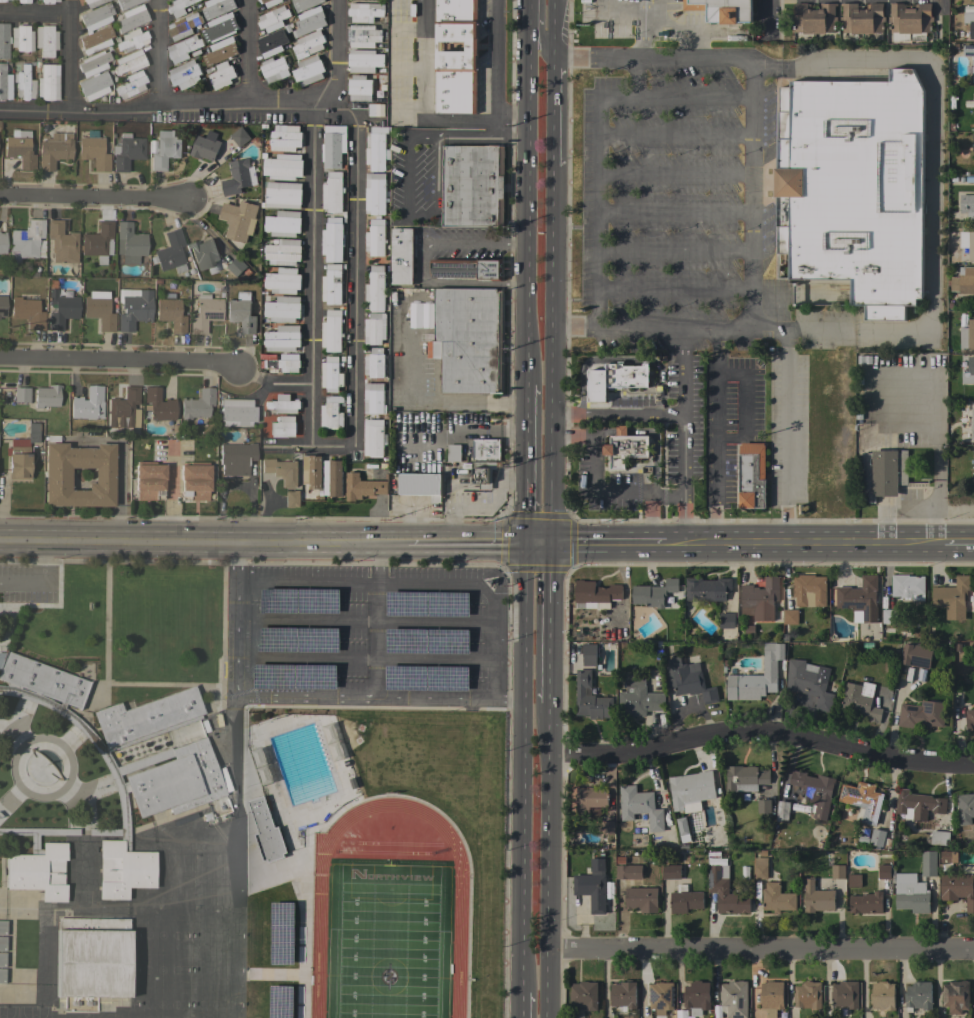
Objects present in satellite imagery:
building: (1, 0)
building: (23, 1)
building: (48, 1)
building: (92, 2)
building: (269, 2)
building: (126, 3)
building: (304, 4)
road: (939, 4)
road: (642, 6)
building: (179, 7)
building: (216, 8)
building: (723, 10)
road: (528, 11)
building: (364, 12)
road: (616, 13)
road: (656, 13)
road: (34, 14)
building: (95, 16)
building: (130, 17)
building: (814, 18)
building: (862, 18)
building: (273, 19)
road: (766, 19)
building: (310, 20)
building: (910, 20)
building: (969, 23)
building: (184, 26)
road: (553, 26)
road: (671, 26)
building: (220, 27)
road: (641, 33)
building: (363, 36)
building: (21, 37)
building: (45, 39)
building: (95, 39)
building: (131, 39)
building: (3, 40)
road: (690, 41)
road: (535, 42)
building: (272, 43)
building: (308, 44)
building: (183, 48)
building: (221, 51)
road: (249, 53)
road: (67, 54)
road: (159, 54)
road: (334, 54)
road: (650, 54)
building: (455, 57)
building: (128, 61)
building: (364, 61)
building: (93, 62)
building: (972, 63)
building: (274, 70)
building: (308, 71)
building: (185, 74)
building: (221, 75)
road: (634, 75)
building: (23, 82)
building: (47, 82)
building: (5, 83)
building: (131, 84)
building: (93, 85)
building: (359, 88)
road: (172, 107)
road: (552, 109)
building: (376, 110)
road: (460, 119)
road: (674, 133)
road: (596, 135)
building: (240, 137)
building: (285, 138)
road: (436, 139)
building: (972, 142)
building: (205, 146)
building: (332, 147)
building: (19, 148)
building: (54, 149)
building: (165, 149)
building: (377, 149)
building: (93, 150)
building: (126, 150)
building: (283, 166)
road: (674, 171)
building: (238, 177)
road: (928, 183)
building: (473, 186)
building: (854, 187)
road: (751, 191)
building: (332, 192)
building: (375, 194)
building: (283, 195)
road: (94, 200)
road: (526, 202)
building: (967, 206)
road: (673, 212)
building: (238, 220)
building: (283, 223)
building: (375, 237)
building: (332, 240)
building: (2, 241)
building: (26, 241)
building: (97, 241)
building: (61, 242)
building: (129, 242)
building: (967, 243)
building: (170, 252)
building: (283, 252)
road: (673, 252)
building: (204, 254)
building: (402, 256)
road: (422, 260)
building: (236, 266)
building: (467, 268)
road: (311, 276)
building: (283, 281)
building: (963, 281)
building: (332, 284)
building: (375, 289)
road: (673, 289)
building: (2, 305)
building: (133, 307)
building: (60, 309)
building: (99, 309)
building: (283, 309)
building: (27, 312)
building: (205, 312)
building: (241, 312)
building: (170, 313)
road: (353, 318)
building: (375, 328)
road: (771, 329)
building: (332, 330)
building: (967, 335)
building: (283, 338)
building: (468, 339)
road: (550, 355)
road: (120, 362)
building: (285, 363)
building: (374, 363)
building: (969, 372)
building: (331, 374)
road: (682, 378)
building: (616, 379)
road: (745, 389)
building: (20, 393)
building: (46, 395)
road: (422, 397)
building: (373, 398)
building: (88, 403)
building: (196, 404)
building: (283, 404)
building: (158, 405)
building: (122, 408)
building: (236, 411)
building: (331, 412)
road: (653, 412)
building: (972, 422)
building: (282, 426)
building: (31, 432)
road: (717, 436)
building: (374, 438)
building: (625, 447)
building: (486, 449)
building: (973, 451)
building: (453, 452)
building: (235, 458)
building: (18, 461)
road: (120, 462)
road: (524, 464)
building: (281, 470)
building: (311, 471)
road: (596, 473)
building: (883, 473)
building: (483, 474)
building: (57, 475)
building: (751, 475)
building: (147, 477)
building: (193, 478)
building: (332, 478)
building: (420, 485)
building: (362, 487)
road: (170, 491)
building: (293, 498)
road: (651, 506)
road: (684, 519)
road: (22, 540)
road: (958, 542)
road: (226, 543)
road: (830, 543)
road: (674, 544)
road: (701, 544)
road: (466, 545)
road: (600, 545)
road: (657, 545)
traffic signals: (524, 546)
road: (536, 546)
traffic signals: (549, 546)
road: (377, 563)
road: (41, 581)
road: (415, 581)
building: (907, 587)
building: (707, 589)
building: (809, 590)
building: (653, 593)
building: (597, 595)
building: (860, 598)
building: (952, 598)
building: (760, 599)
building: (889, 616)
building: (790, 617)
road: (363, 619)
building: (726, 620)
road: (548, 625)
road: (376, 640)
building: (589, 655)
building: (916, 655)
road: (363, 659)
building: (757, 677)
building: (689, 680)
building: (809, 681)
building: (259, 684)
road: (305, 697)
building: (590, 698)
building: (638, 699)
building: (860, 701)
building: (921, 714)
building: (969, 720)
road: (760, 730)
building: (332, 740)
building: (260, 765)
road: (523, 769)
building: (171, 775)
building: (745, 778)
road: (233, 786)
building: (691, 788)
building: (814, 791)
building: (590, 799)
building: (862, 801)
building: (919, 804)
building: (763, 806)
building: (640, 807)
building: (965, 808)
building: (781, 810)
building: (607, 827)
building: (264, 829)
building: (877, 838)
building: (938, 838)
building: (945, 858)
road: (547, 861)
building: (38, 863)
building: (928, 863)
building: (760, 866)
building: (622, 871)
building: (670, 872)
building: (838, 872)
building: (884, 872)
building: (854, 880)
building: (592, 886)
building: (957, 889)
building: (725, 891)
building: (910, 893)
building: (777, 898)
building: (817, 898)
building: (641, 899)
building: (685, 900)
building: (866, 903)
building: (2, 926)
building: (25, 942)
building: (2, 943)
road: (761, 948)
building: (282, 950)
building: (92, 956)
building: (2, 959)
building: (2, 975)
building: (844, 994)
building: (585, 995)
building: (622, 995)
building: (808, 995)
building: (883, 996)
building: (918, 996)
building: (955, 996)
building: (660, 997)
building: (696, 997)
building: (771, 997)
building: (734, 998)
road: (518, 1005)
building: (577, 1017)

